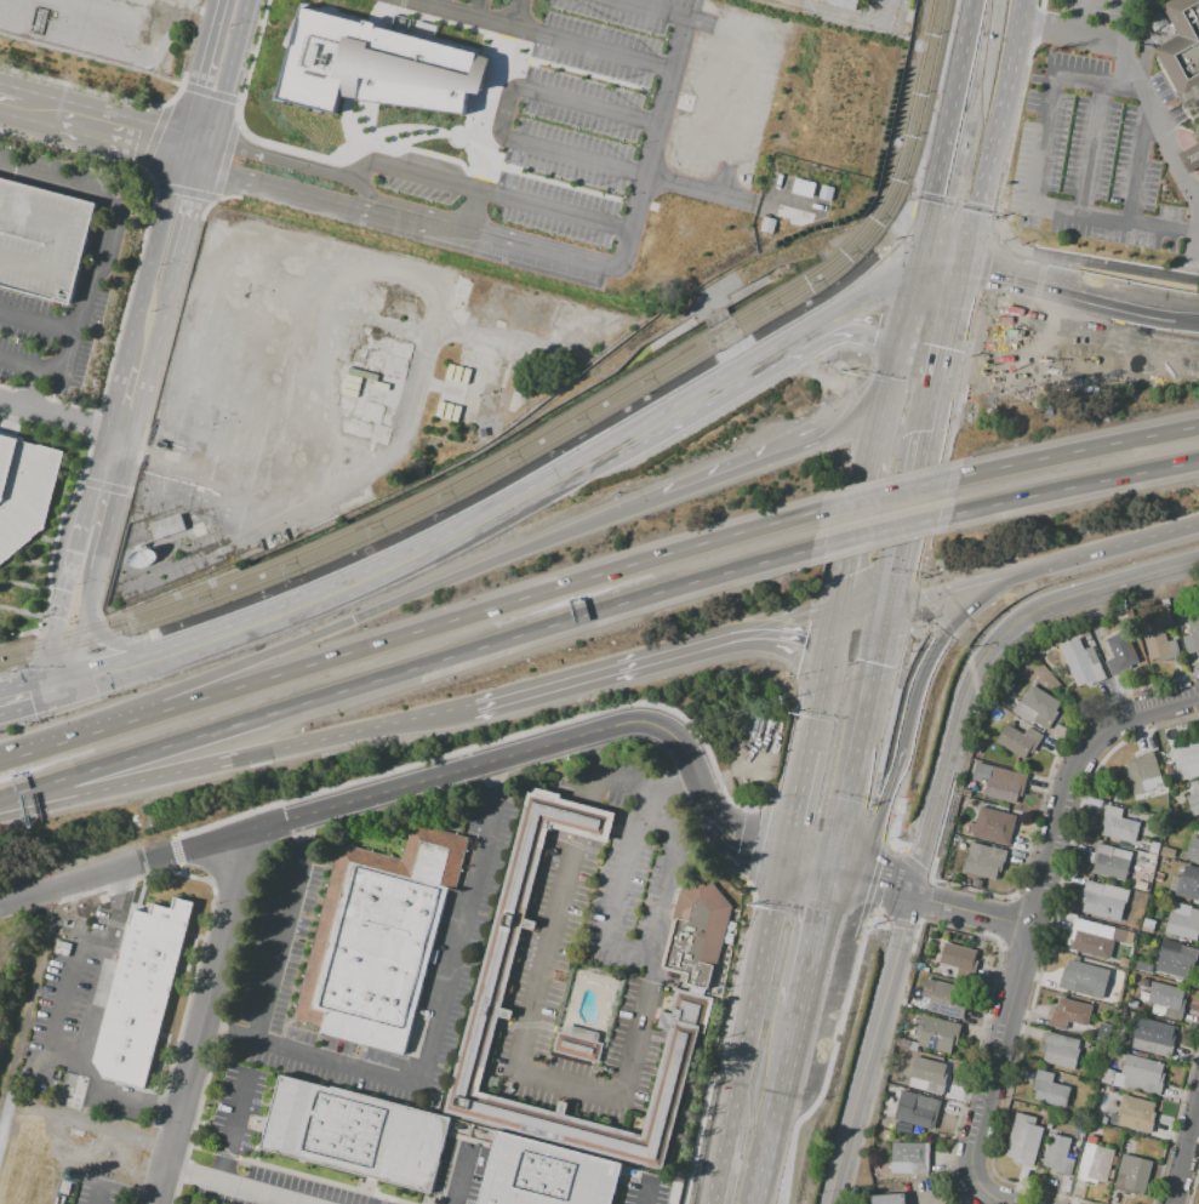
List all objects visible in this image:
road: (430, 1)
building: (841, 2)
road: (400, 4)
road: (1038, 4)
road: (476, 7)
road: (399, 8)
road: (891, 8)
road: (341, 13)
road: (372, 13)
road: (672, 13)
road: (476, 16)
road: (1074, 16)
road: (974, 19)
road: (1120, 19)
road: (439, 21)
road: (1033, 30)
road: (738, 32)
road: (592, 46)
building: (1182, 50)
road: (967, 58)
road: (247, 64)
building: (384, 67)
road: (572, 69)
road: (229, 70)
road: (1138, 72)
road: (182, 84)
road: (86, 89)
road: (177, 91)
road: (209, 91)
road: (236, 99)
road: (933, 102)
road: (165, 103)
road: (486, 105)
parking lot: (610, 109)
road: (503, 112)
road: (90, 121)
road: (235, 124)
road: (153, 136)
road: (1010, 136)
road: (994, 137)
road: (356, 144)
road: (1092, 149)
road: (76, 150)
road: (428, 153)
parking lot: (1097, 153)
road: (206, 155)
building: (1189, 156)
road: (192, 158)
road: (223, 160)
road: (285, 160)
road: (1141, 161)
road: (141, 166)
parking lot: (55, 175)
road: (942, 177)
road: (1037, 177)
road: (553, 181)
road: (154, 184)
road: (183, 190)
road: (289, 192)
road: (489, 193)
road: (727, 195)
road: (213, 198)
road: (215, 198)
road: (468, 209)
road: (952, 211)
road: (189, 216)
road: (995, 221)
road: (965, 222)
road: (1000, 227)
road: (1198, 229)
road: (1198, 234)
road: (1000, 238)
building: (41, 241)
parking lot: (41, 241)
road: (1195, 245)
road: (105, 259)
road: (620, 261)
road: (1109, 263)
road: (990, 270)
road: (943, 275)
traffic signals: (967, 275)
traffic signals: (919, 276)
road: (126, 295)
road: (857, 295)
road: (1081, 304)
road: (959, 314)
road: (977, 320)
road: (36, 321)
road: (132, 326)
road: (720, 330)
road: (845, 333)
parking lot: (47, 338)
road: (902, 347)
road: (765, 349)
road: (153, 350)
traffic signals: (953, 354)
road: (960, 386)
road: (7, 387)
road: (28, 388)
road: (28, 393)
road: (686, 395)
road: (69, 404)
road: (64, 420)
road: (7, 421)
railway: (560, 424)
road: (92, 426)
road: (675, 429)
railway: (569, 434)
road: (1079, 451)
road: (770, 457)
road: (533, 462)
road: (870, 468)
road: (924, 477)
road: (533, 486)
road: (1075, 487)
building: (23, 491)
parking lot: (23, 491)
road: (25, 493)
road: (891, 493)
road: (113, 503)
road: (937, 506)
building: (166, 526)
road: (56, 530)
road: (885, 531)
road: (1127, 541)
road: (864, 566)
road: (849, 577)
road: (360, 578)
road: (976, 581)
road: (91, 586)
road: (398, 600)
traffic signals: (896, 600)
road: (918, 600)
building: (1158, 604)
road: (967, 605)
road: (481, 609)
road: (1035, 609)
road: (866, 617)
building: (1085, 630)
road: (19, 632)
road: (230, 632)
road: (780, 633)
building: (1191, 633)
building: (1157, 634)
traffic signals: (837, 635)
building: (1086, 638)
road: (74, 643)
road: (114, 644)
building: (1120, 654)
road: (781, 660)
building: (1081, 662)
road: (114, 671)
road: (407, 671)
road: (42, 673)
road: (601, 673)
building: (1037, 680)
traffic signals: (64, 684)
road: (51, 687)
traffic signals: (39, 691)
road: (822, 691)
road: (19, 696)
building: (1037, 708)
road: (890, 711)
road: (436, 714)
road: (863, 737)
road: (70, 738)
road: (491, 740)
building: (1018, 741)
building: (1188, 759)
building: (1167, 766)
road: (198, 768)
building: (1143, 772)
building: (1170, 781)
building: (998, 783)
road: (670, 784)
road: (701, 784)
building: (1198, 786)
road: (887, 789)
road: (941, 792)
building: (966, 793)
road: (350, 800)
building: (1172, 801)
road: (883, 803)
building: (1193, 804)
road: (799, 805)
building: (1172, 812)
traffic signals: (798, 814)
building: (581, 821)
building: (1119, 823)
building: (990, 826)
road: (723, 828)
road: (890, 832)
road: (755, 841)
building: (964, 843)
building: (1154, 846)
building: (1193, 849)
road: (175, 850)
road: (763, 852)
road: (918, 852)
building: (1167, 852)
building: (1108, 861)
building: (982, 862)
traffic signals: (788, 863)
road: (921, 865)
road: (181, 869)
road: (669, 869)
road: (810, 869)
traffic signals: (832, 875)
building: (1159, 877)
road: (880, 879)
building: (1186, 883)
building: (977, 884)
road: (118, 885)
road: (872, 885)
building: (1140, 886)
road: (748, 888)
road: (1035, 898)
building: (1102, 901)
road: (807, 908)
road: (971, 909)
building: (512, 911)
road: (778, 913)
building: (1182, 920)
road: (900, 923)
building: (1135, 924)
building: (1148, 925)
building: (1096, 937)
building: (377, 940)
building: (697, 941)
road: (93, 946)
parking lot: (595, 952)
building: (958, 957)
building: (1176, 958)
building: (919, 966)
building: (1142, 966)
building: (925, 969)
building: (917, 974)
building: (1079, 977)
road: (102, 981)
road: (190, 981)
road: (801, 988)
building: (141, 992)
road: (266, 998)
building: (1167, 998)
building: (943, 999)
building: (915, 1005)
road: (443, 1006)
road: (58, 1008)
building: (1069, 1012)
road: (202, 1016)
road: (978, 1029)
building: (937, 1033)
building: (1152, 1037)
road: (749, 1043)
building: (578, 1049)
building: (1060, 1049)
road: (870, 1050)
road: (830, 1055)
road: (64, 1057)
building: (929, 1074)
building: (1134, 1074)
road: (588, 1089)
building: (1049, 1089)
road: (109, 1092)
road: (164, 1108)
building: (917, 1109)
building: (1134, 1113)
building: (1112, 1119)
building: (1103, 1120)
building: (902, 1128)
building: (355, 1134)
building: (886, 1135)
building: (1023, 1140)
road: (1184, 1148)
road: (765, 1153)
building: (1058, 1154)
building: (909, 1158)
building: (1094, 1163)
road: (721, 1164)
road: (459, 1174)
building: (1132, 1174)
building: (546, 1175)
road: (1192, 1180)
road: (235, 1183)
road: (646, 1193)
road: (97, 1196)
road: (994, 1197)
building: (887, 1199)

